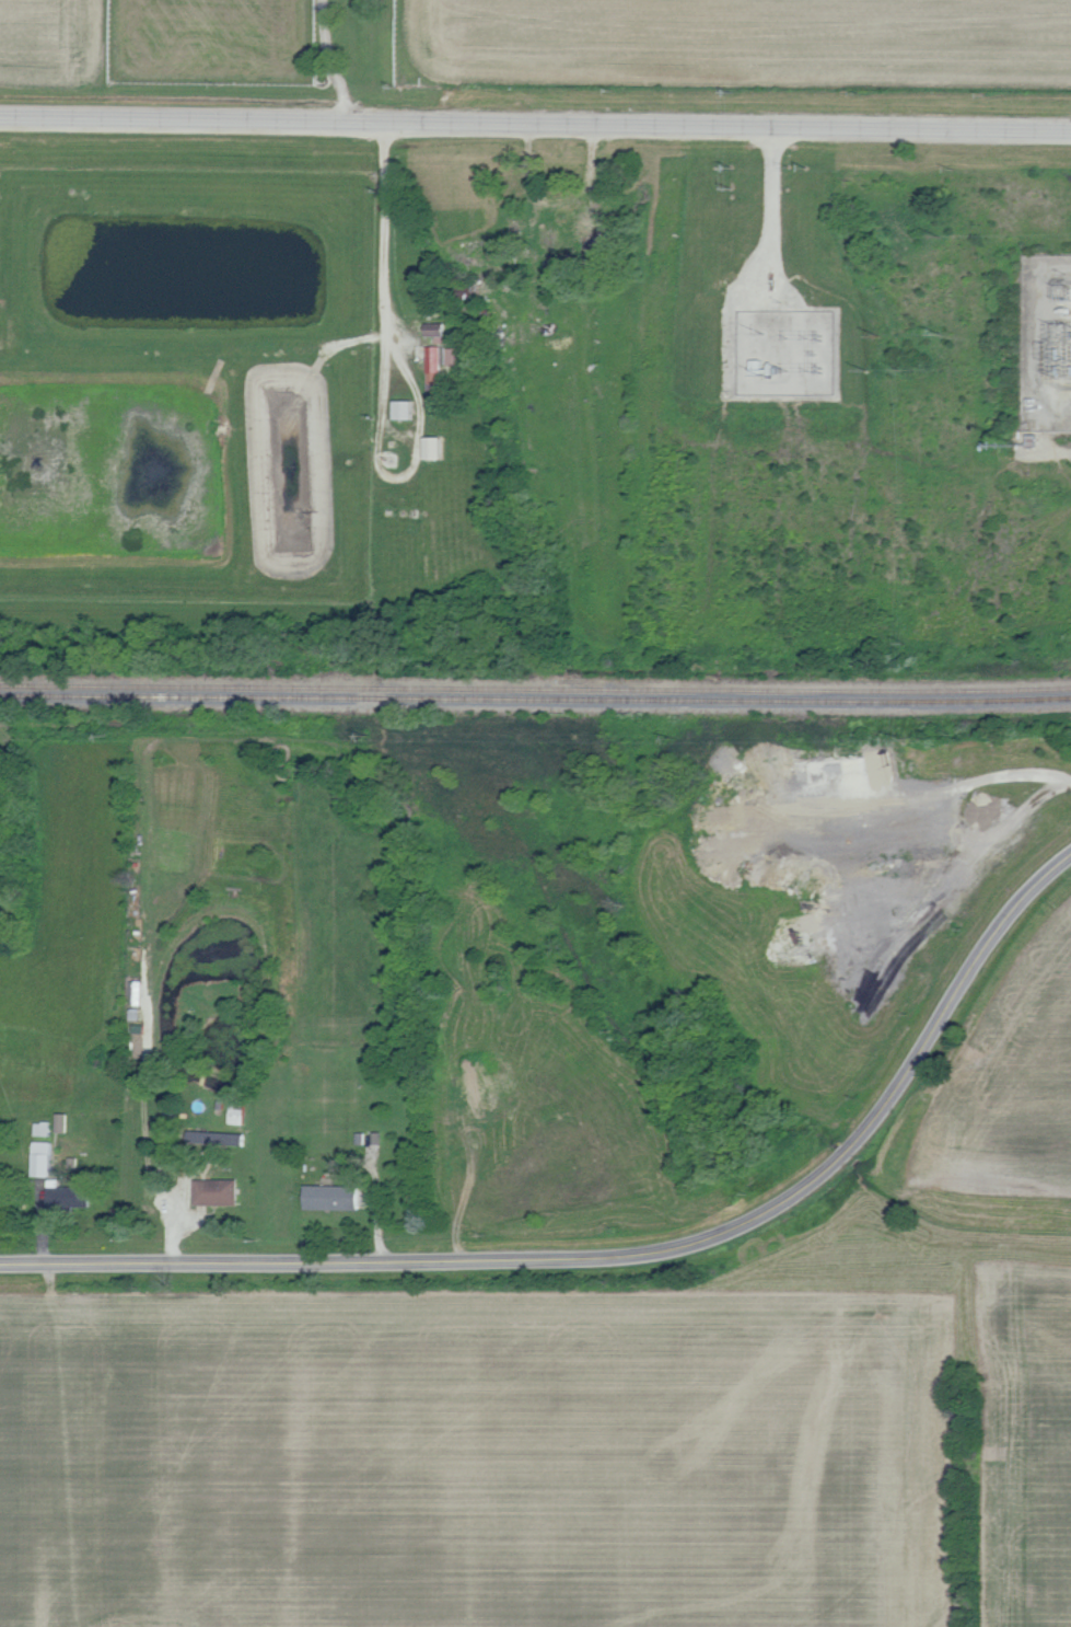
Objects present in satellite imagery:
road: (326, 64)
road: (535, 126)
road: (387, 261)
building: (438, 328)
power substation: (1048, 344)
building: (457, 356)
building: (435, 366)
building: (406, 409)
building: (436, 448)
railway: (535, 688)
railway: (535, 699)
building: (63, 1122)
building: (45, 1128)
building: (45, 1157)
building: (218, 1191)
building: (71, 1195)
building: (334, 1197)
road: (626, 1258)

